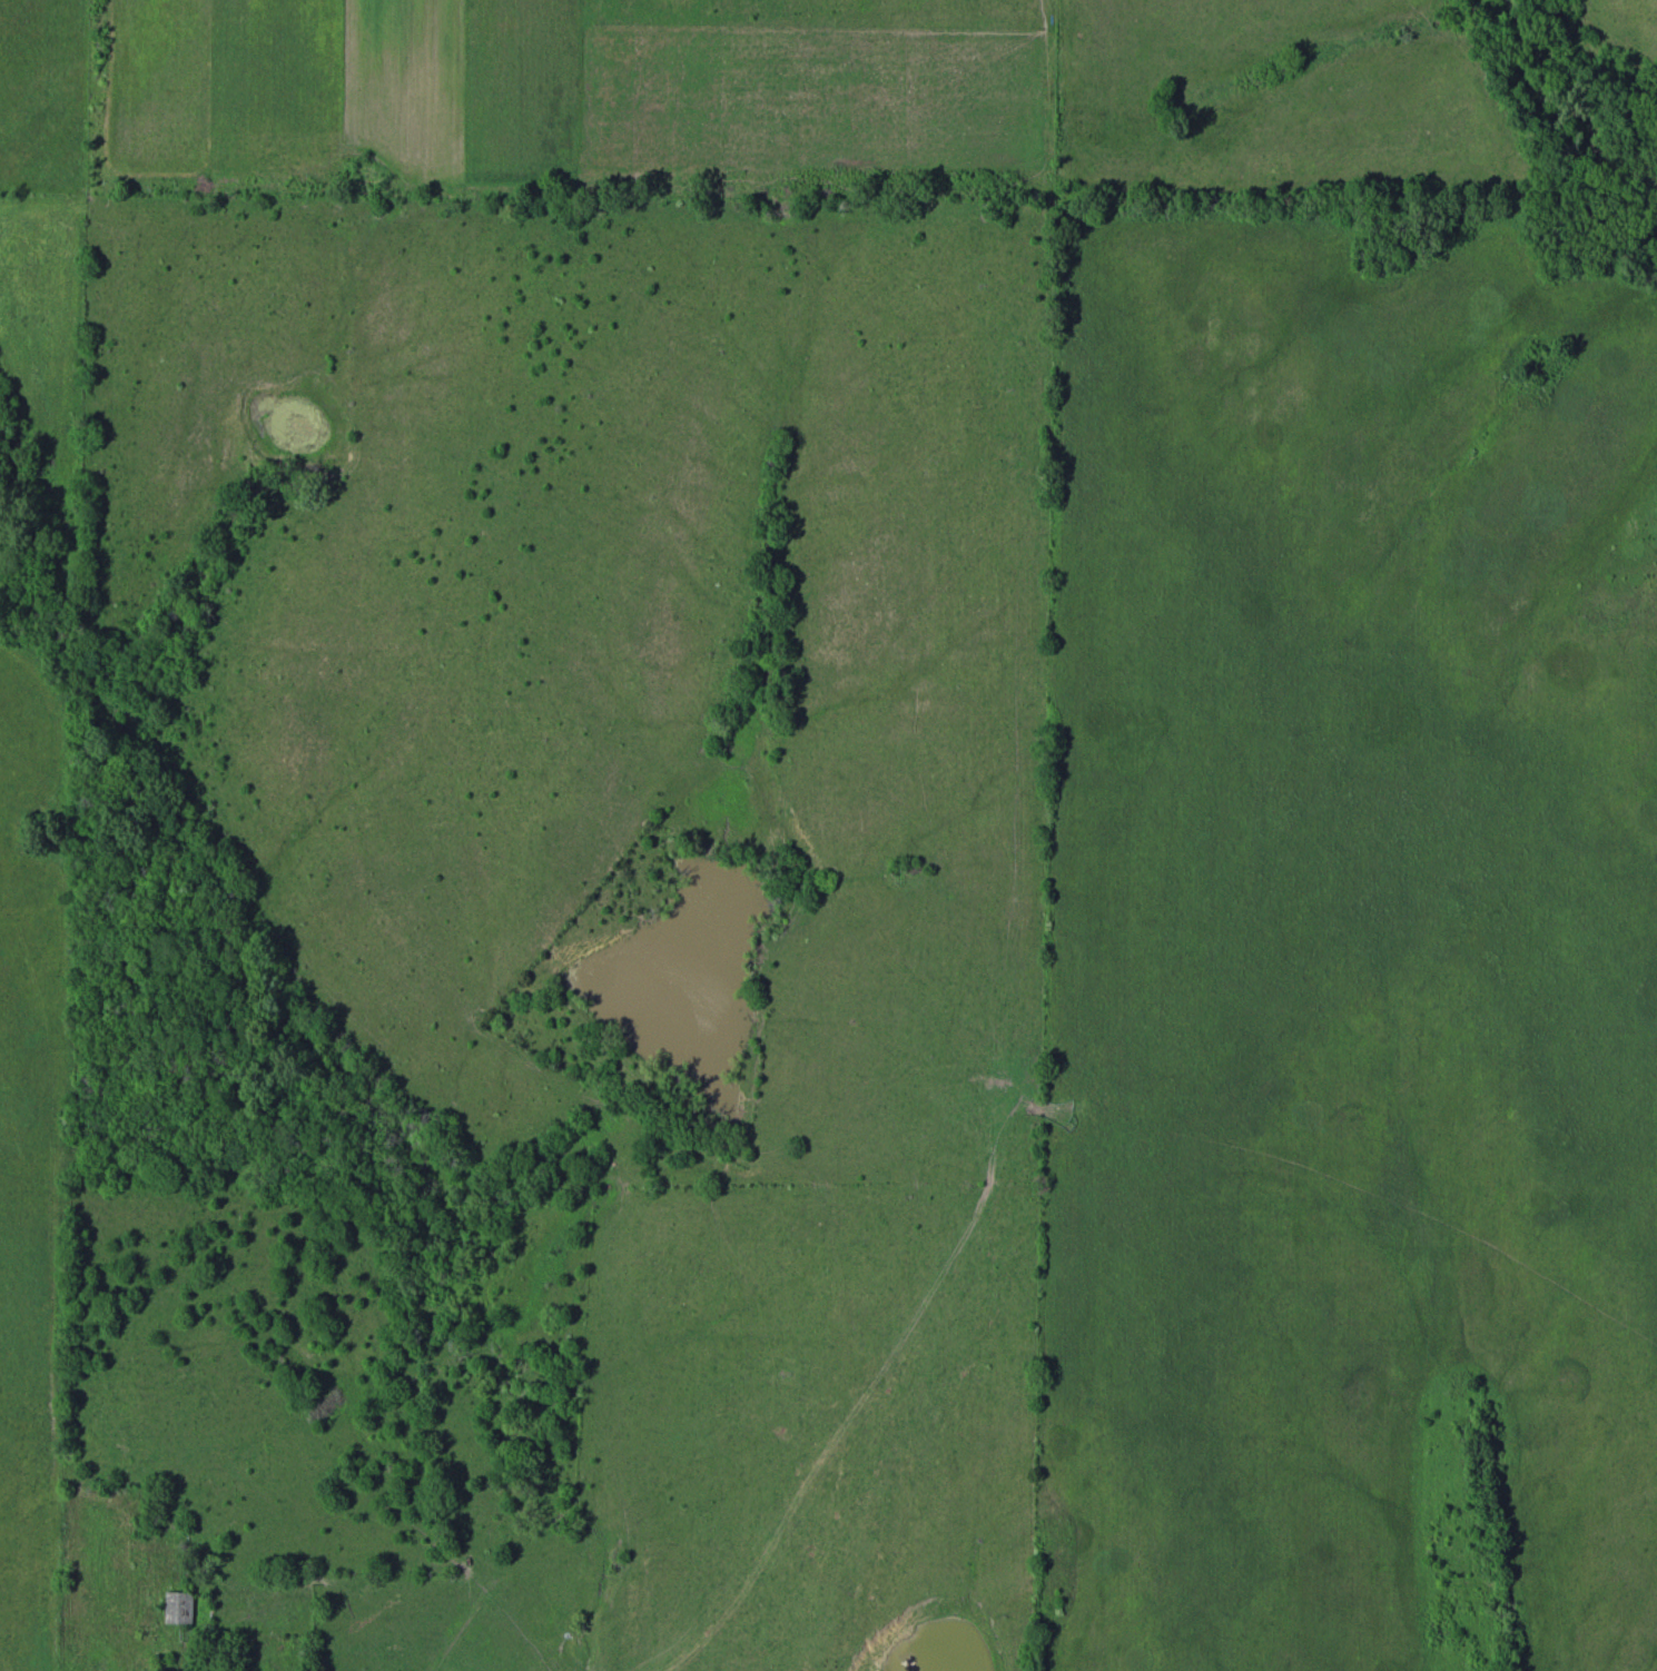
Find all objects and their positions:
building: (176, 1606)

